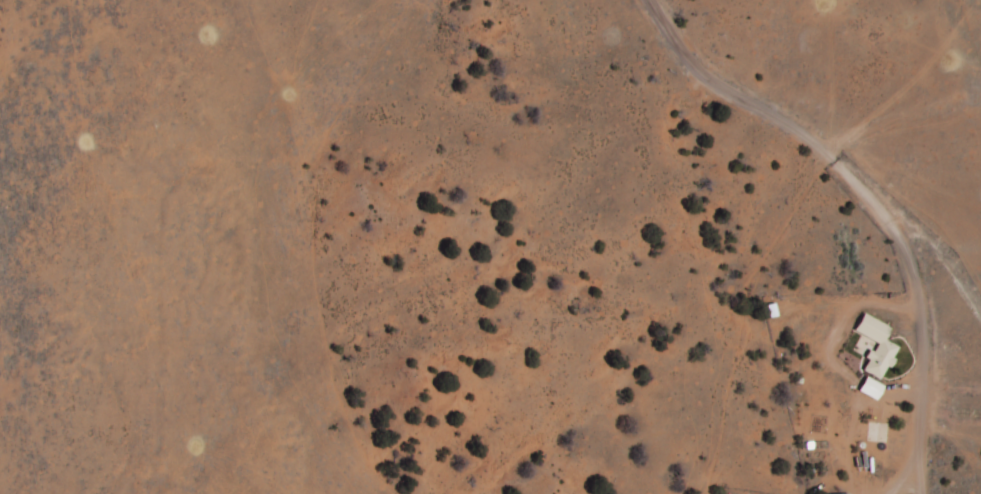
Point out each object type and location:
building: (771, 310)
building: (876, 345)
road: (0, 395)

